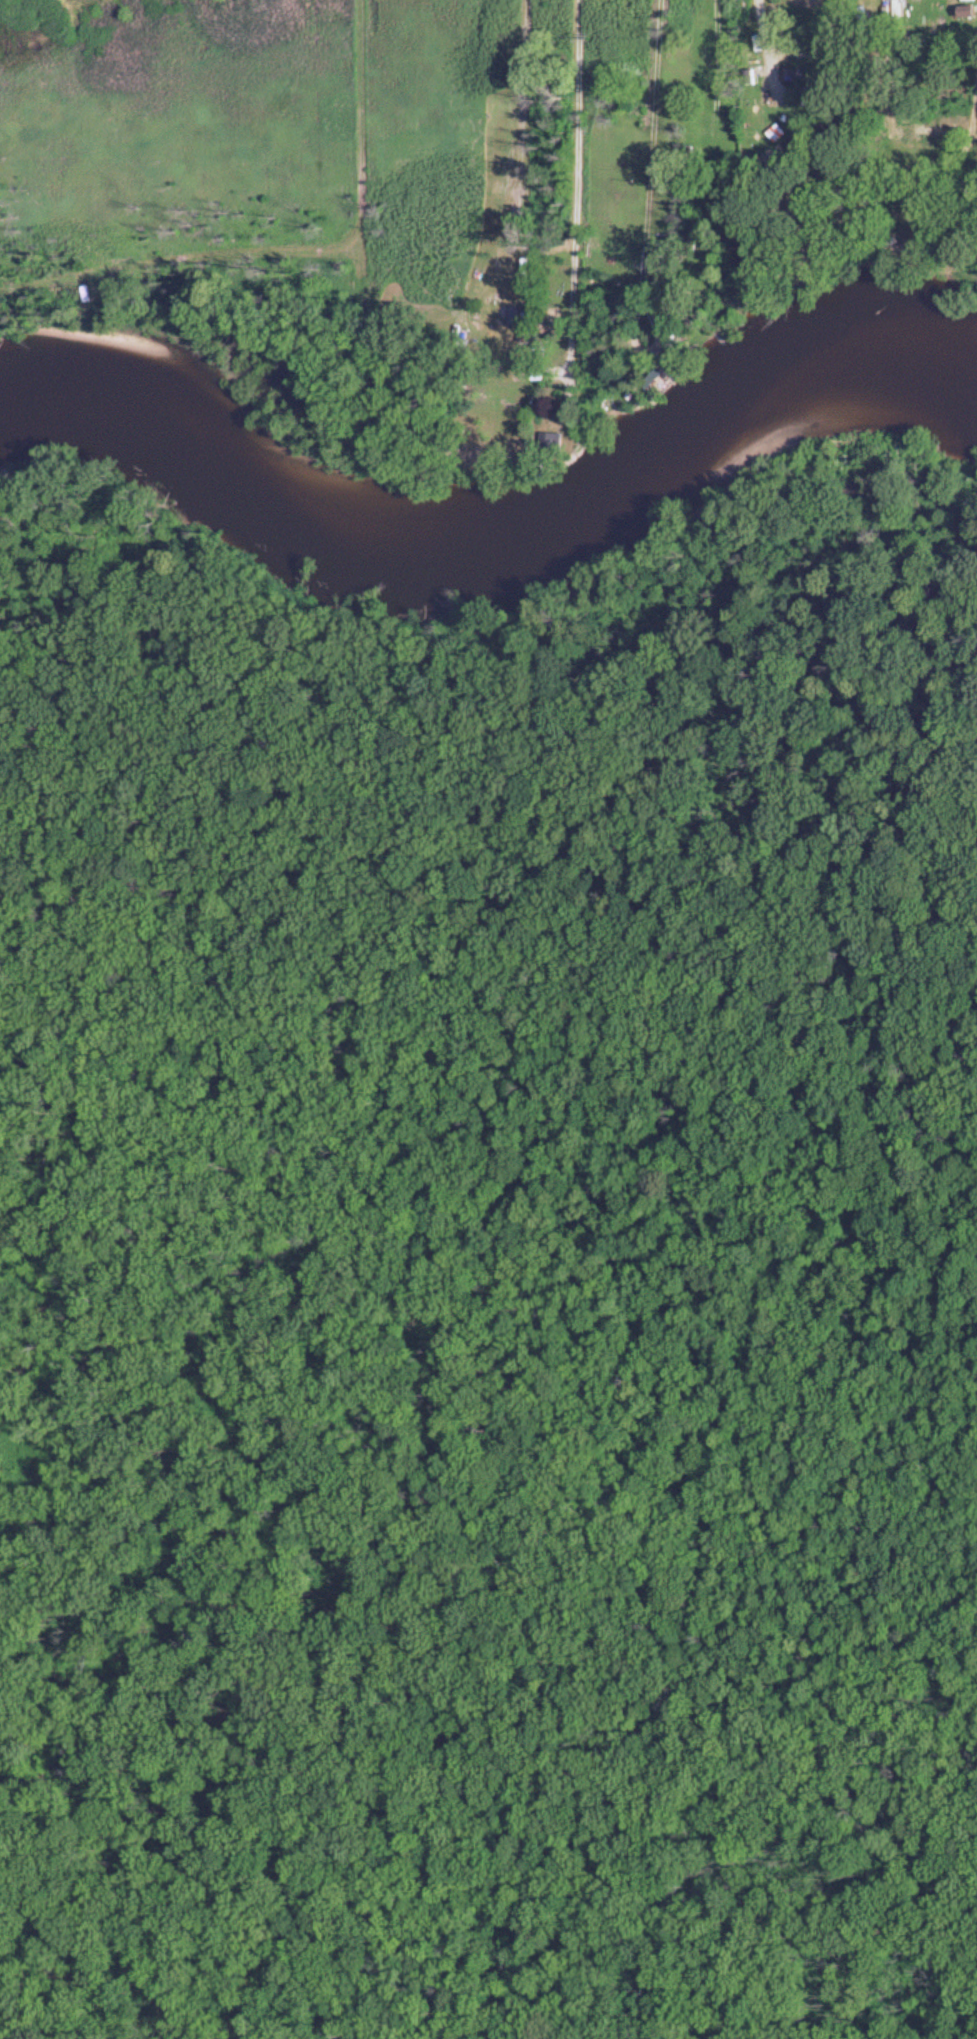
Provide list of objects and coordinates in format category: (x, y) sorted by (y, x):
building: (970, 10)
road: (767, 38)
building: (796, 74)
building: (819, 94)
road: (578, 190)
building: (517, 315)
river: (487, 556)

